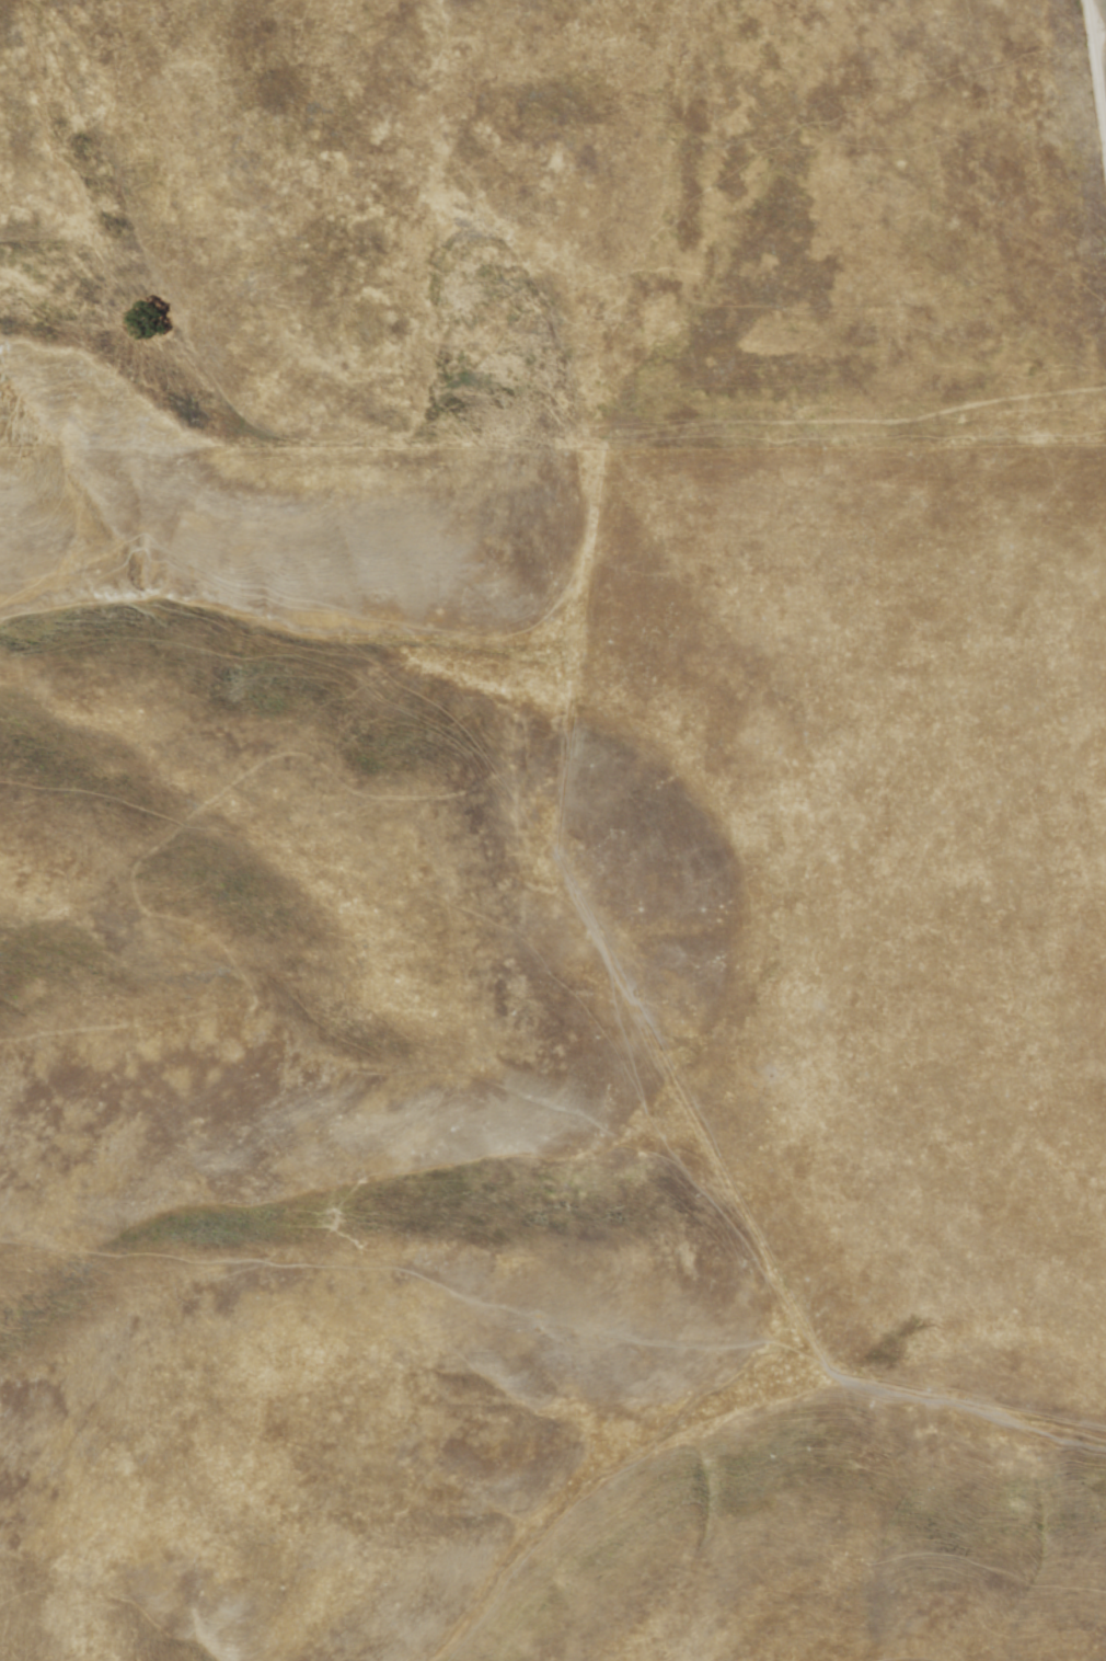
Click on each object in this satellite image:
road: (1098, 48)

